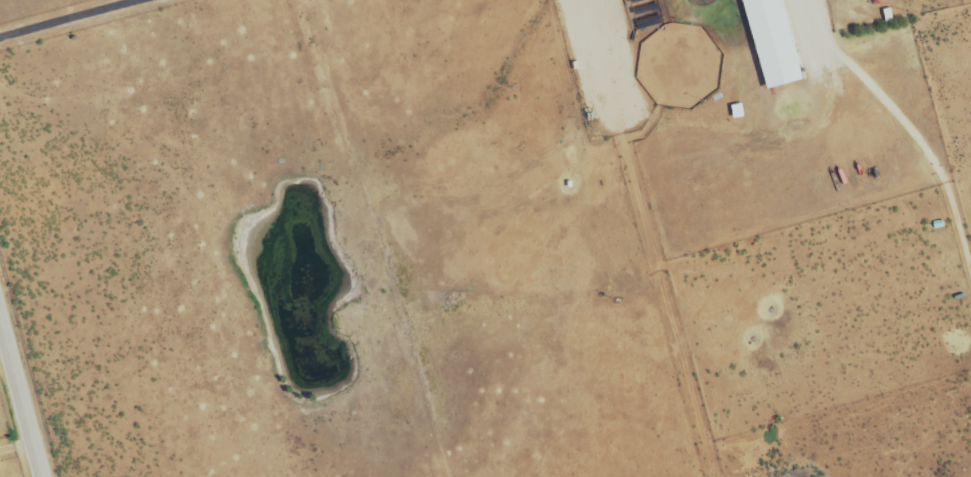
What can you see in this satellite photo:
road: (70, 19)
building: (771, 43)
road: (905, 124)
road: (21, 396)

